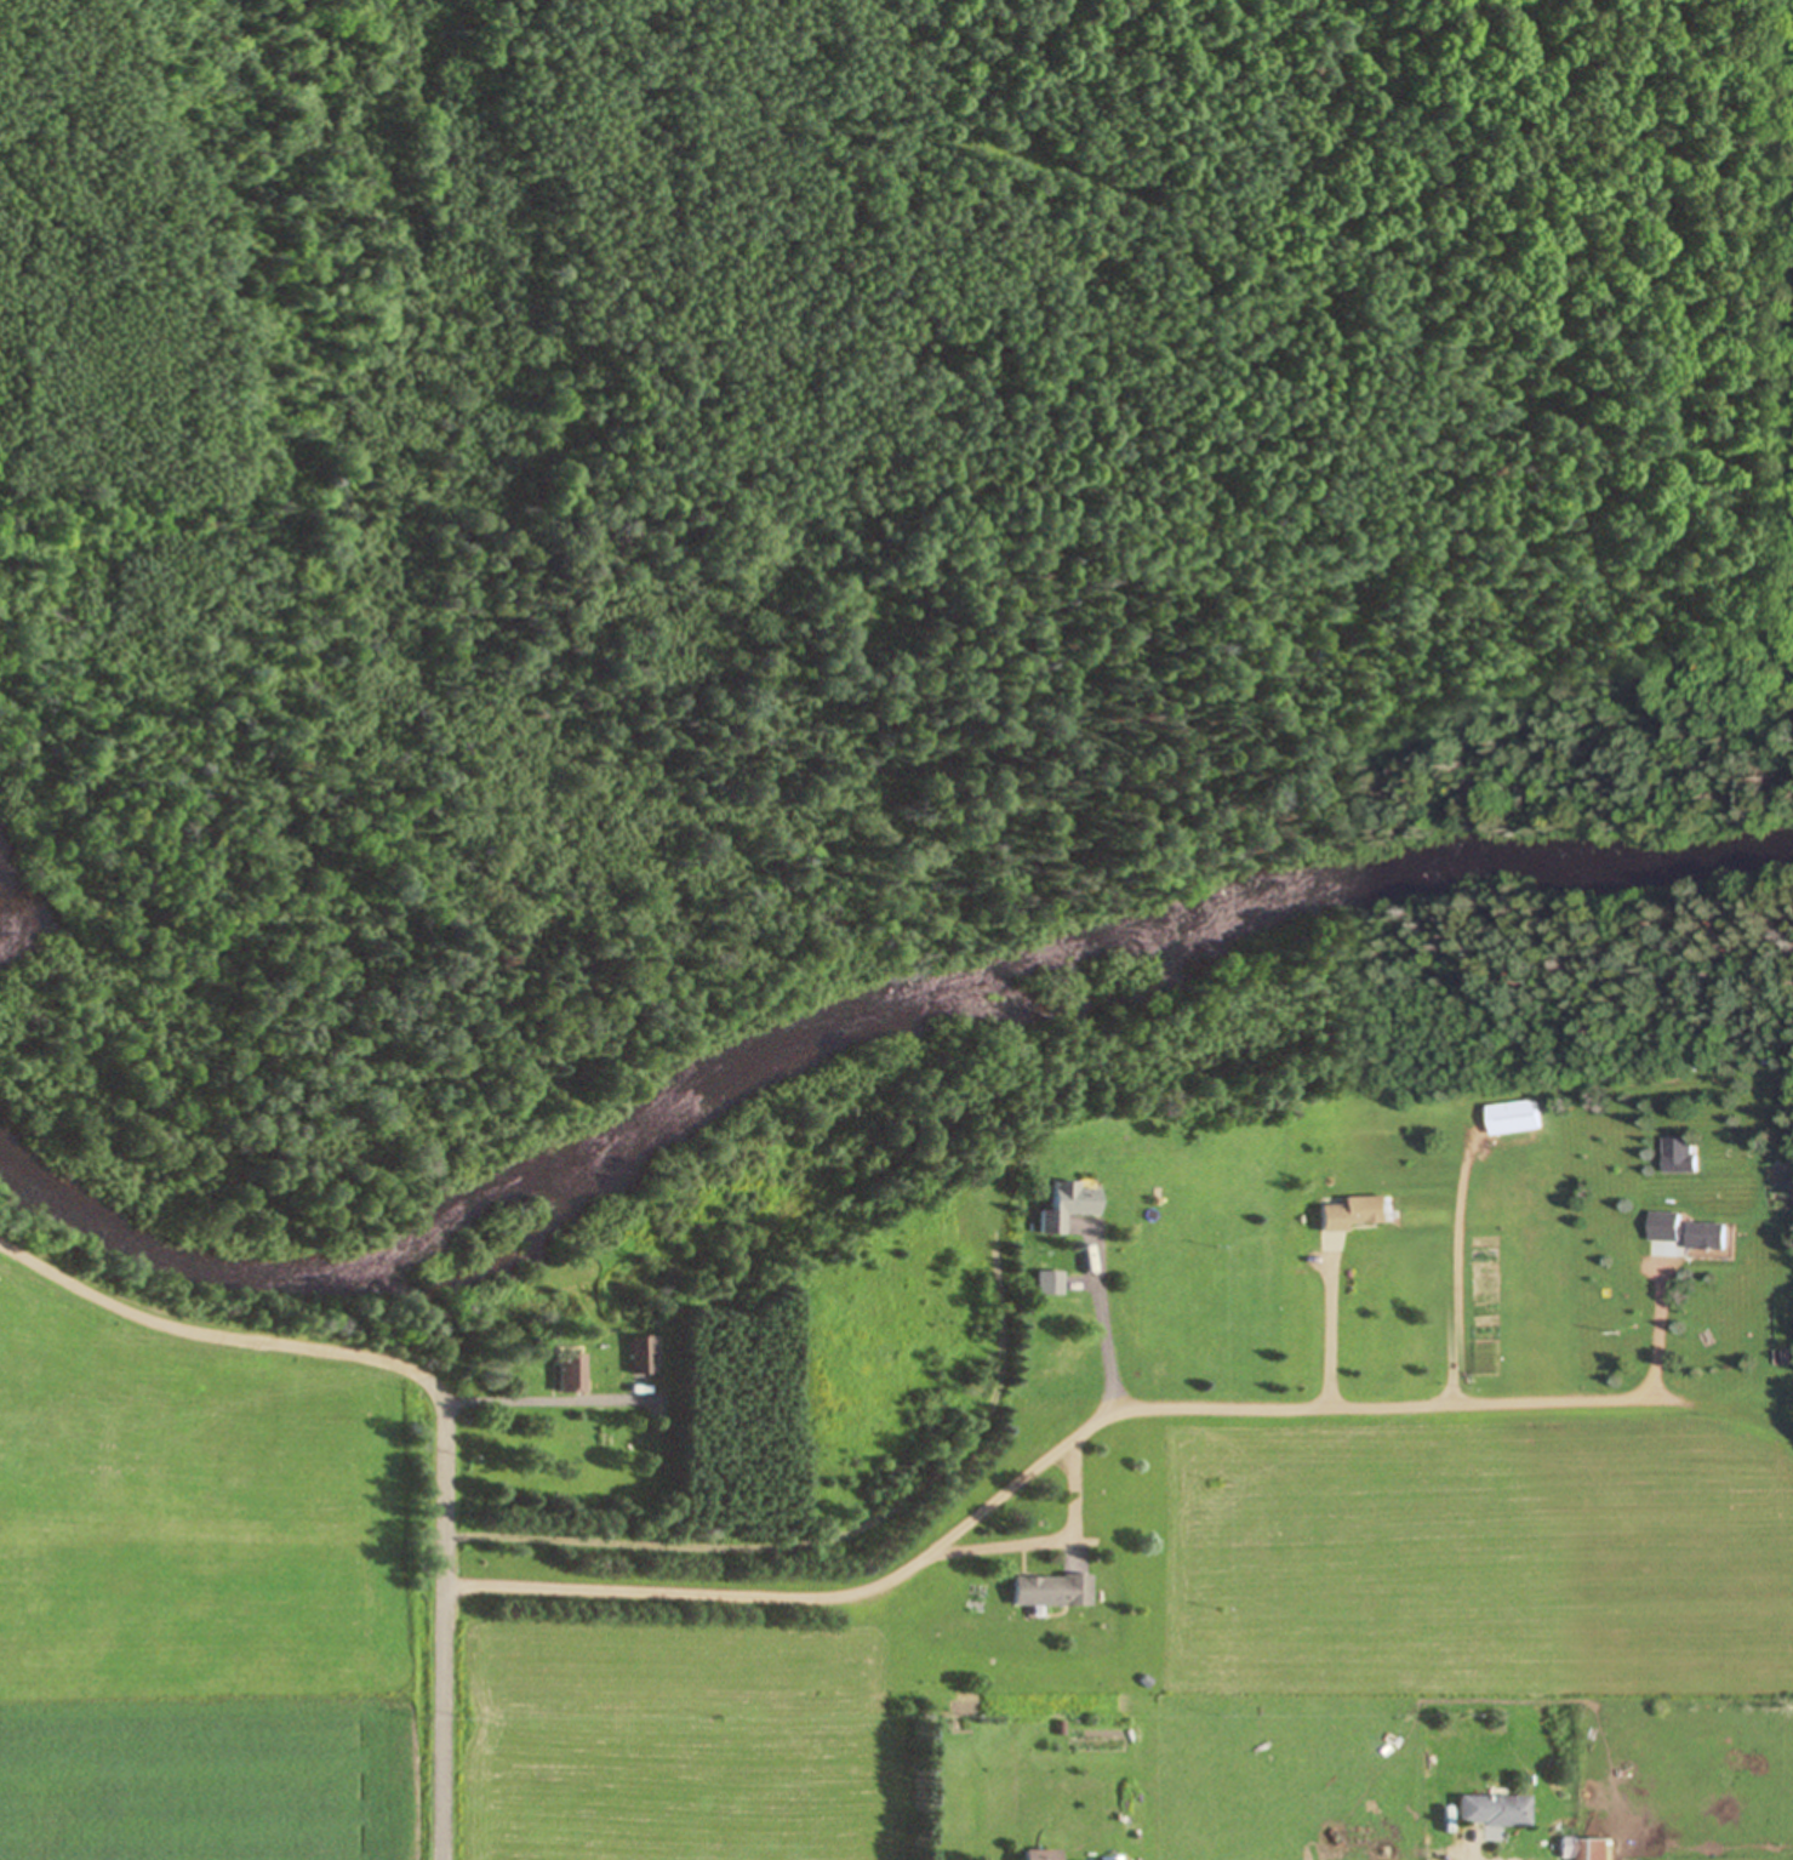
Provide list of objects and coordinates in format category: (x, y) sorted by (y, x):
building: (1509, 412)
river: (846, 1044)
building: (1508, 1118)
building: (1673, 1156)
building: (1064, 1205)
parking lot: (989, 1211)
building: (1349, 1213)
building: (1678, 1231)
building: (1046, 1283)
building: (638, 1354)
building: (564, 1373)
road: (1043, 1465)
building: (1047, 1591)
road: (451, 1628)
building: (1490, 1810)
building: (1581, 1849)
building: (1037, 1854)

